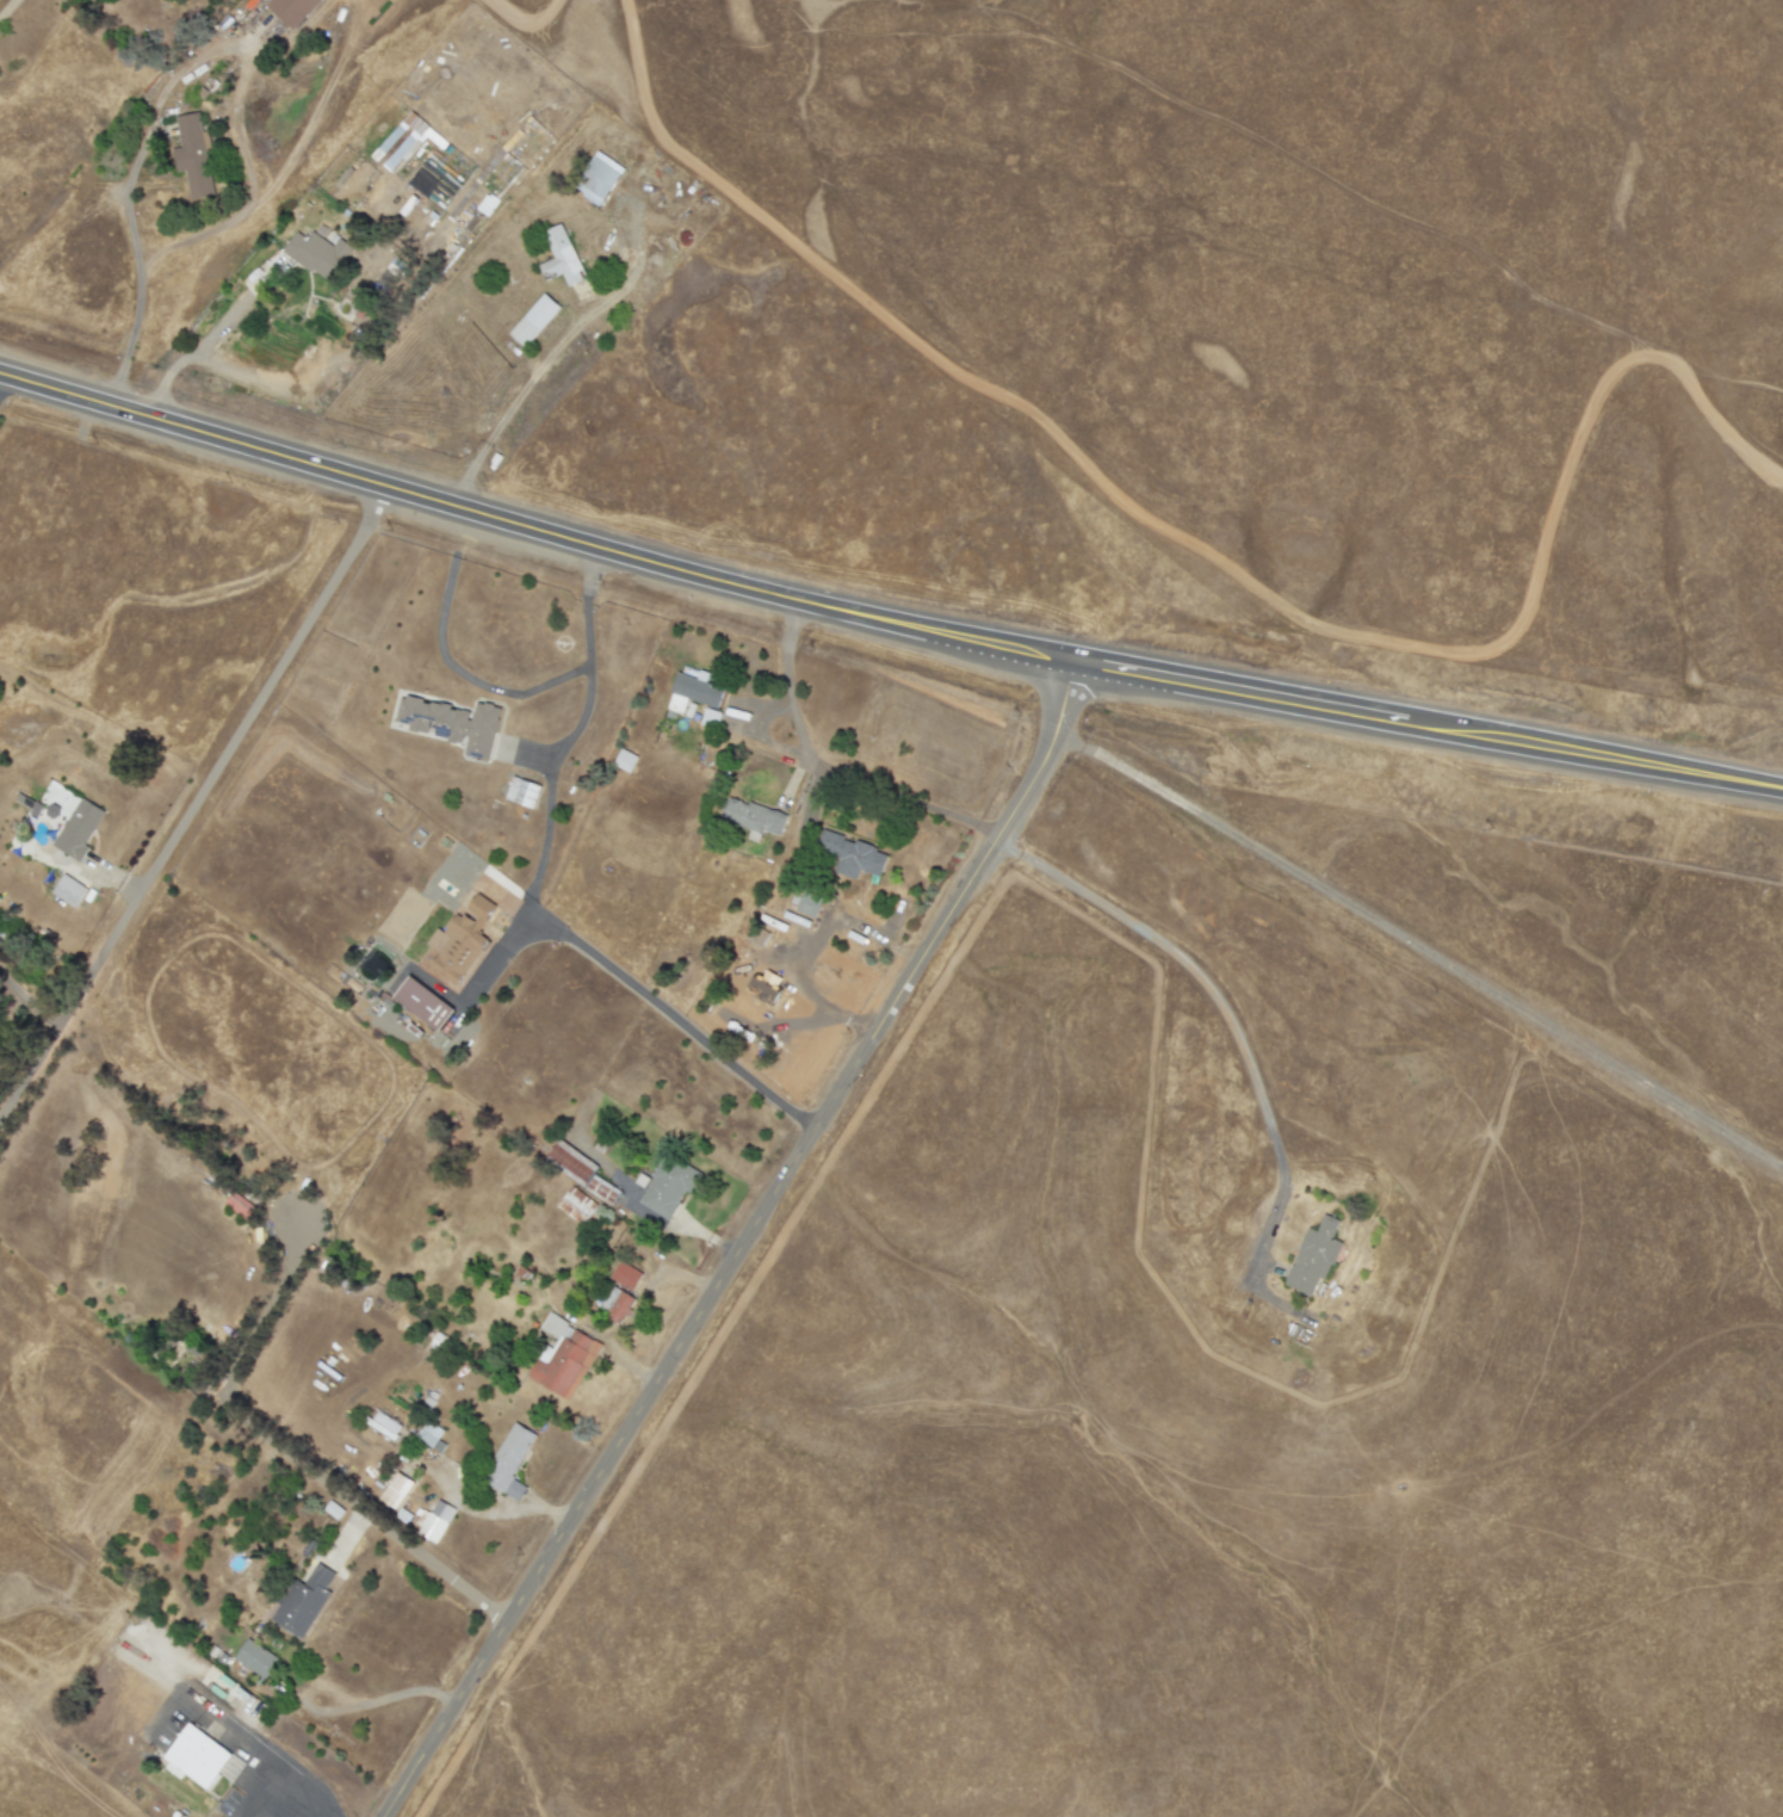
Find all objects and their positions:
road: (6, 7)
building: (292, 10)
building: (404, 142)
building: (193, 155)
building: (599, 179)
building: (316, 254)
building: (561, 258)
road: (136, 261)
building: (534, 320)
road: (228, 360)
road: (544, 365)
road: (4, 378)
road: (879, 634)
road: (453, 663)
building: (693, 692)
building: (708, 718)
building: (452, 723)
building: (625, 760)
road: (829, 771)
building: (522, 792)
road: (191, 806)
building: (753, 818)
building: (78, 829)
building: (850, 855)
building: (69, 891)
road: (533, 904)
building: (807, 904)
building: (456, 945)
building: (763, 990)
road: (26, 1001)
road: (817, 1002)
building: (423, 1003)
road: (1219, 1003)
building: (581, 1170)
building: (668, 1187)
building: (576, 1205)
road: (736, 1251)
building: (1313, 1257)
building: (625, 1275)
building: (617, 1305)
building: (562, 1358)
building: (383, 1426)
building: (431, 1436)
building: (509, 1463)
building: (396, 1490)
road: (364, 1509)
building: (333, 1510)
building: (434, 1521)
building: (304, 1602)
building: (255, 1658)
road: (348, 1706)
road: (231, 1730)
building: (196, 1757)
road: (283, 1800)

